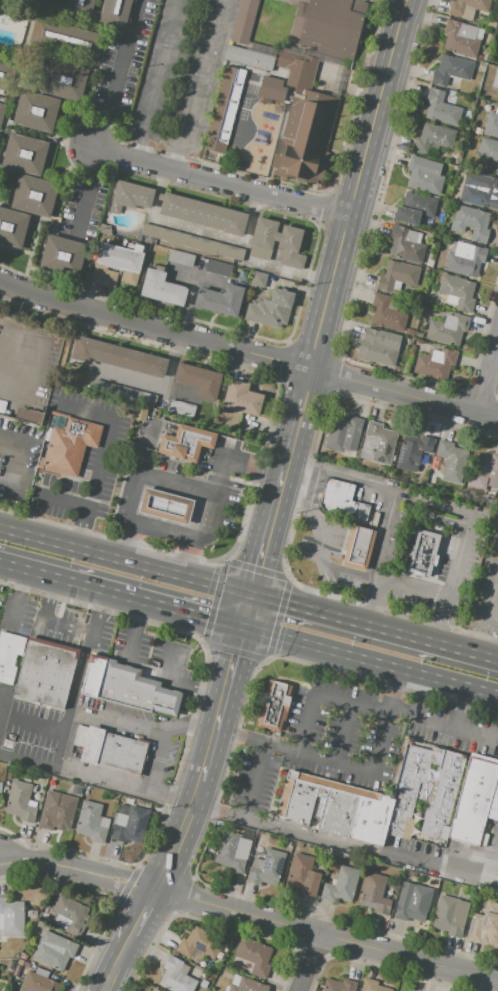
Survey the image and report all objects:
road: (403, 2)
road: (411, 2)
building: (79, 7)
building: (469, 8)
building: (115, 12)
building: (243, 20)
building: (480, 20)
building: (328, 25)
building: (68, 38)
building: (461, 39)
road: (160, 57)
building: (248, 57)
building: (497, 62)
building: (497, 64)
building: (452, 71)
road: (116, 73)
building: (5, 75)
building: (65, 79)
building: (495, 79)
road: (196, 84)
building: (272, 88)
building: (441, 109)
building: (2, 111)
building: (37, 111)
building: (223, 114)
building: (303, 123)
building: (491, 124)
building: (478, 130)
road: (139, 137)
building: (434, 139)
building: (488, 149)
building: (24, 154)
building: (497, 169)
building: (425, 176)
road: (225, 183)
building: (479, 189)
road: (86, 190)
building: (34, 194)
building: (178, 208)
building: (415, 208)
road: (355, 218)
building: (472, 223)
building: (12, 226)
building: (104, 229)
building: (193, 241)
building: (289, 243)
building: (406, 245)
building: (63, 256)
building: (181, 257)
building: (121, 260)
building: (466, 260)
building: (218, 267)
building: (396, 275)
building: (104, 276)
building: (258, 278)
building: (162, 287)
road: (191, 291)
building: (458, 292)
building: (220, 299)
building: (280, 305)
building: (387, 314)
building: (262, 315)
building: (448, 329)
building: (378, 349)
road: (248, 353)
building: (117, 357)
building: (436, 363)
road: (488, 375)
building: (199, 380)
road: (157, 386)
road: (10, 391)
building: (124, 394)
building: (241, 397)
building: (2, 407)
building: (181, 408)
building: (28, 415)
building: (442, 432)
road: (195, 434)
building: (345, 434)
road: (144, 435)
building: (379, 442)
building: (185, 444)
road: (228, 444)
building: (70, 446)
road: (101, 454)
building: (416, 454)
building: (453, 461)
building: (484, 471)
road: (8, 480)
road: (140, 480)
road: (215, 486)
road: (161, 487)
road: (382, 489)
road: (183, 493)
road: (305, 493)
road: (62, 500)
road: (289, 501)
building: (342, 501)
road: (156, 504)
building: (165, 506)
gas station: (165, 506)
road: (179, 510)
road: (274, 510)
road: (151, 522)
road: (410, 526)
road: (174, 528)
road: (163, 531)
building: (359, 547)
road: (126, 556)
building: (426, 557)
road: (321, 559)
road: (456, 563)
road: (413, 588)
traffic signals: (253, 589)
road: (487, 594)
road: (121, 597)
road: (374, 600)
road: (51, 601)
road: (247, 609)
road: (99, 612)
road: (441, 618)
road: (375, 621)
road: (68, 626)
traffic signals: (242, 630)
building: (9, 657)
road: (370, 663)
road: (148, 667)
building: (45, 675)
building: (127, 686)
road: (321, 697)
road: (70, 698)
building: (274, 707)
road: (460, 710)
road: (219, 711)
road: (189, 728)
road: (442, 728)
road: (344, 733)
parking lot: (325, 742)
building: (114, 750)
road: (156, 760)
road: (343, 763)
road: (96, 778)
road: (254, 780)
building: (0, 787)
building: (6, 788)
building: (77, 789)
building: (424, 793)
building: (19, 801)
building: (476, 801)
road: (216, 802)
building: (333, 807)
building: (56, 811)
building: (91, 822)
building: (129, 824)
building: (286, 843)
building: (299, 844)
building: (450, 844)
road: (345, 845)
building: (259, 849)
building: (232, 851)
parking lot: (458, 851)
building: (267, 868)
building: (303, 875)
road: (496, 877)
building: (341, 885)
building: (443, 886)
road: (154, 893)
building: (374, 893)
building: (412, 902)
building: (69, 914)
road: (250, 915)
building: (450, 915)
building: (12, 917)
building: (485, 920)
building: (199, 942)
building: (54, 950)
building: (23, 956)
building: (255, 956)
building: (20, 962)
road: (309, 962)
building: (27, 964)
building: (32, 966)
building: (41, 972)
building: (176, 976)
building: (235, 980)
building: (39, 983)
building: (204, 984)
building: (248, 985)
building: (340, 985)
building: (373, 986)
building: (154, 990)

